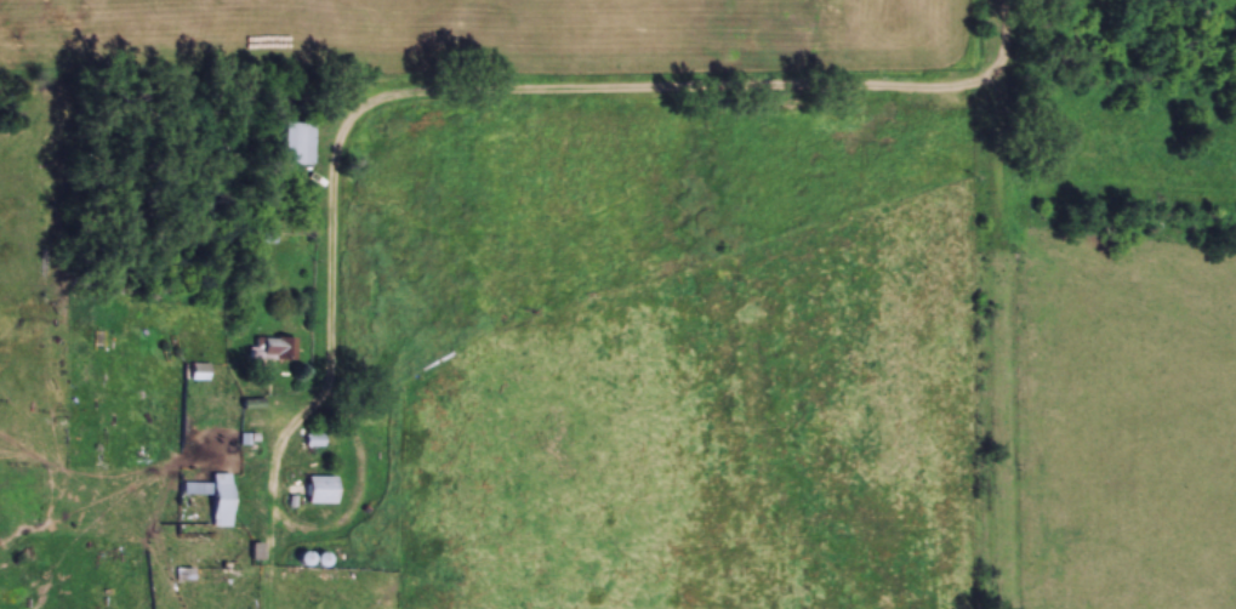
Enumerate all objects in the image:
road: (532, 98)
building: (294, 144)
road: (1004, 303)
building: (274, 348)
building: (198, 371)
building: (313, 442)
building: (317, 489)
building: (217, 501)
road: (283, 530)

